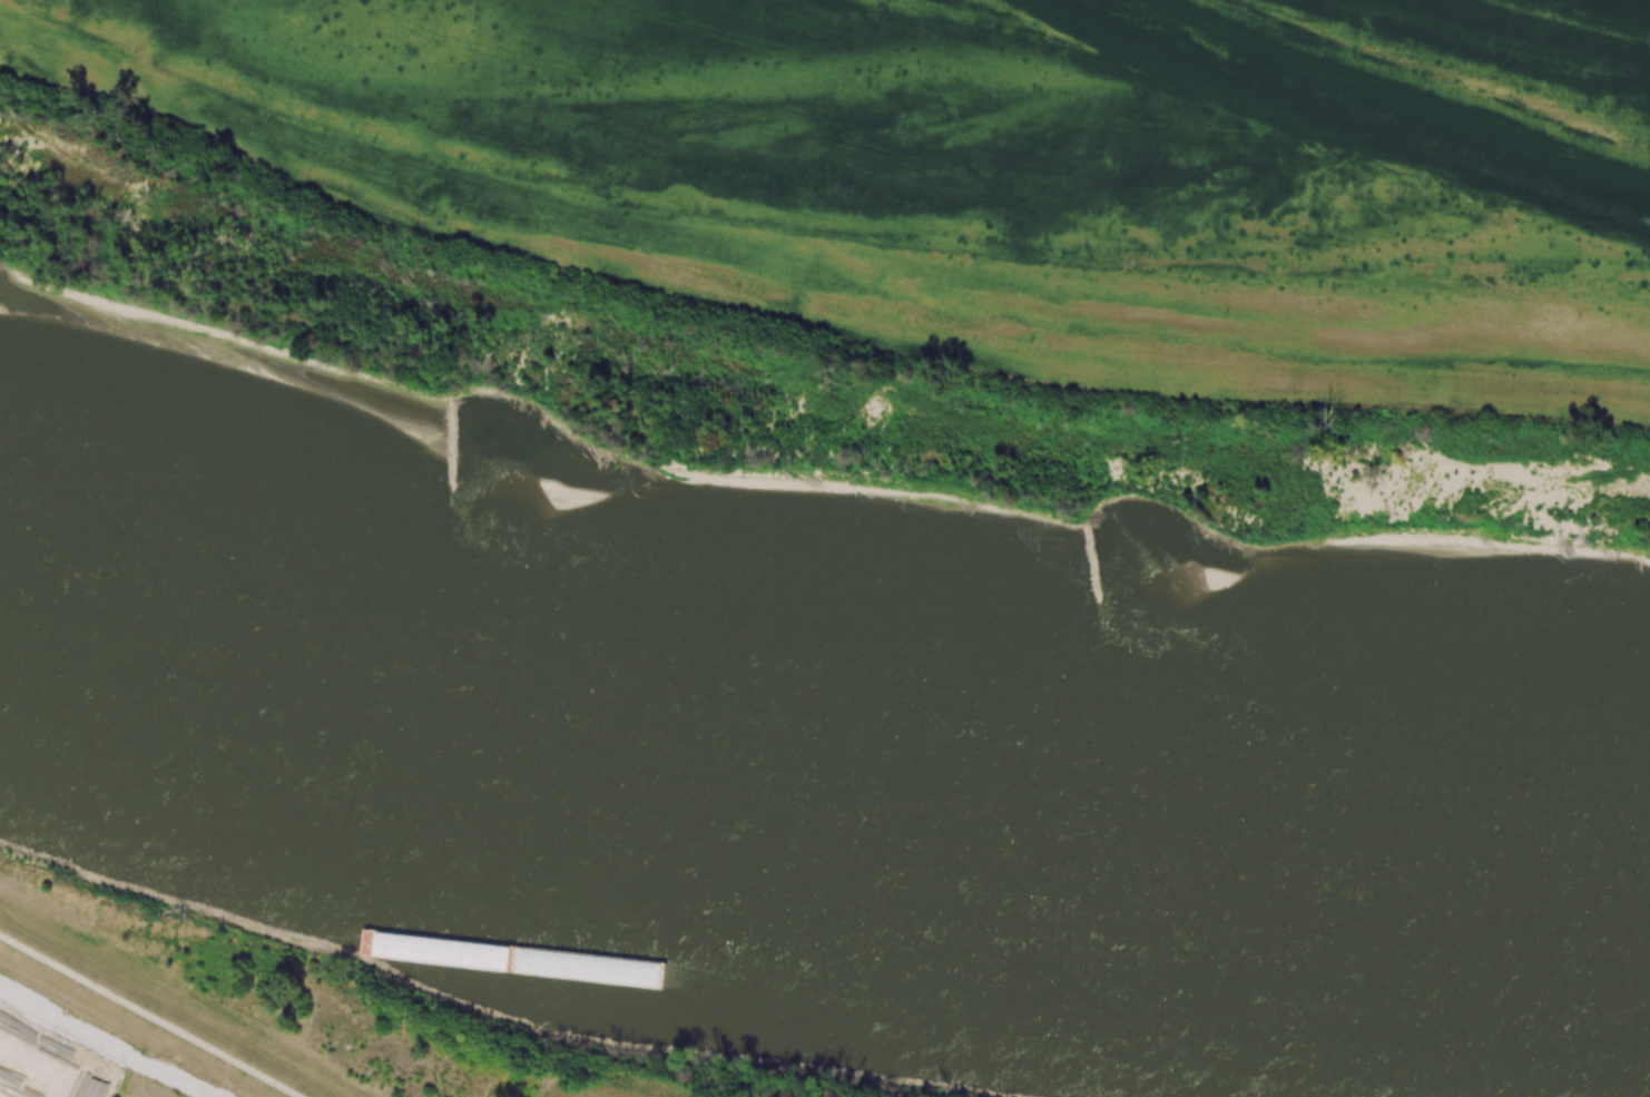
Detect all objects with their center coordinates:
river: (811, 783)
road: (149, 1016)

